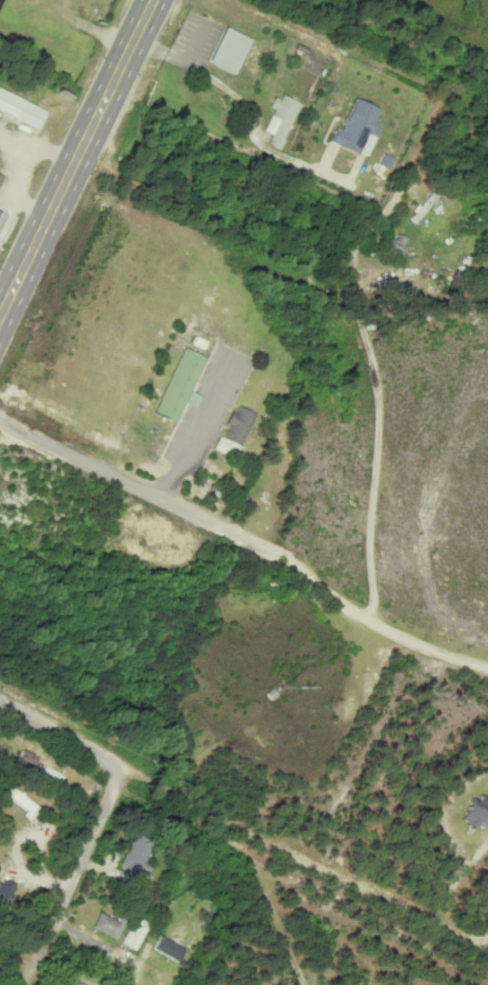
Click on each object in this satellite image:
building: (1, 3)
building: (229, 49)
building: (21, 108)
road: (246, 109)
building: (279, 119)
road: (75, 159)
building: (1, 175)
building: (2, 217)
building: (396, 243)
building: (179, 385)
building: (235, 430)
road: (252, 528)
building: (35, 765)
building: (477, 811)
road: (221, 817)
building: (134, 854)
road: (76, 878)
building: (5, 890)
building: (107, 924)
building: (133, 936)
building: (169, 948)
building: (77, 984)

